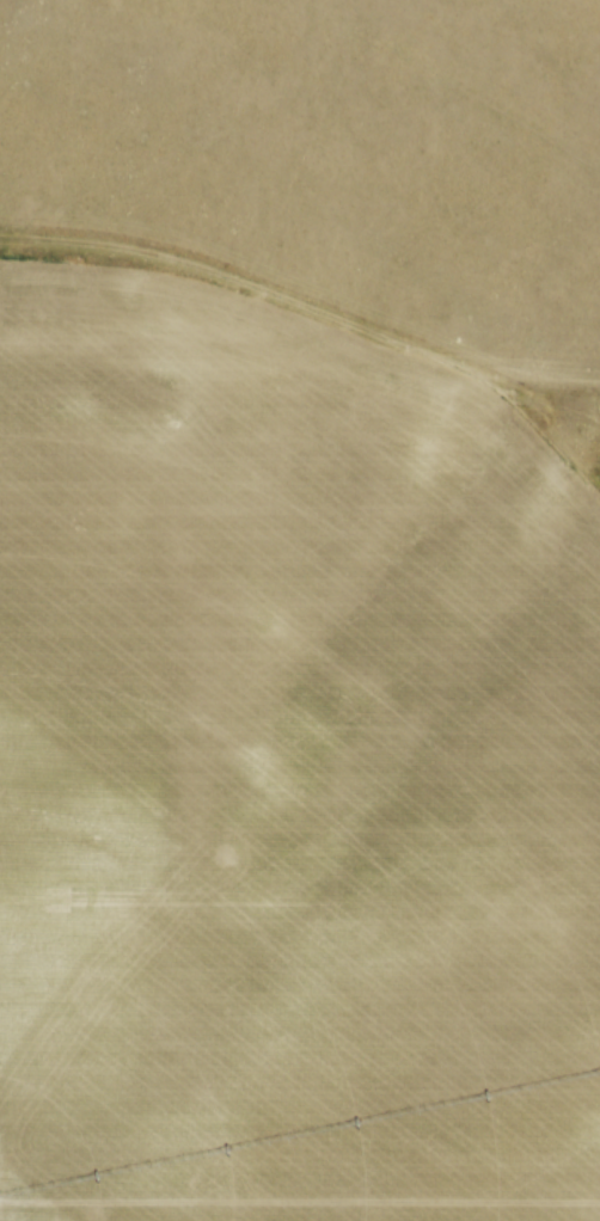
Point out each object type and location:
crop: (286, 777)

